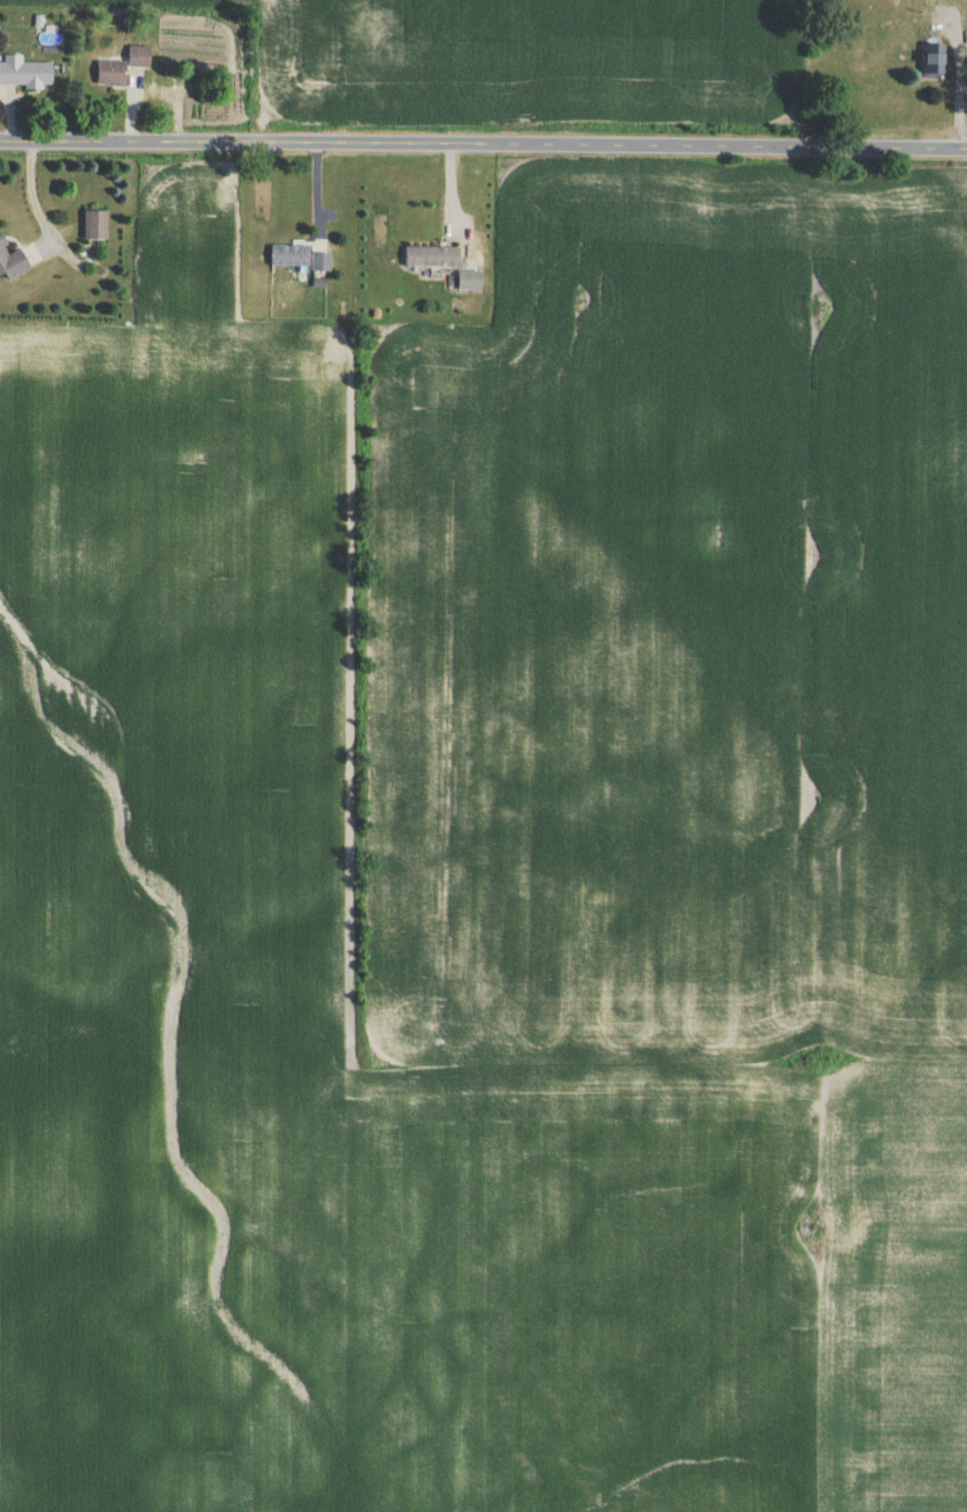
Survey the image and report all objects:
building: (135, 59)
building: (930, 64)
building: (22, 75)
building: (107, 76)
road: (957, 88)
road: (483, 151)
building: (92, 228)
building: (286, 258)
building: (428, 259)
building: (317, 265)
building: (466, 283)

